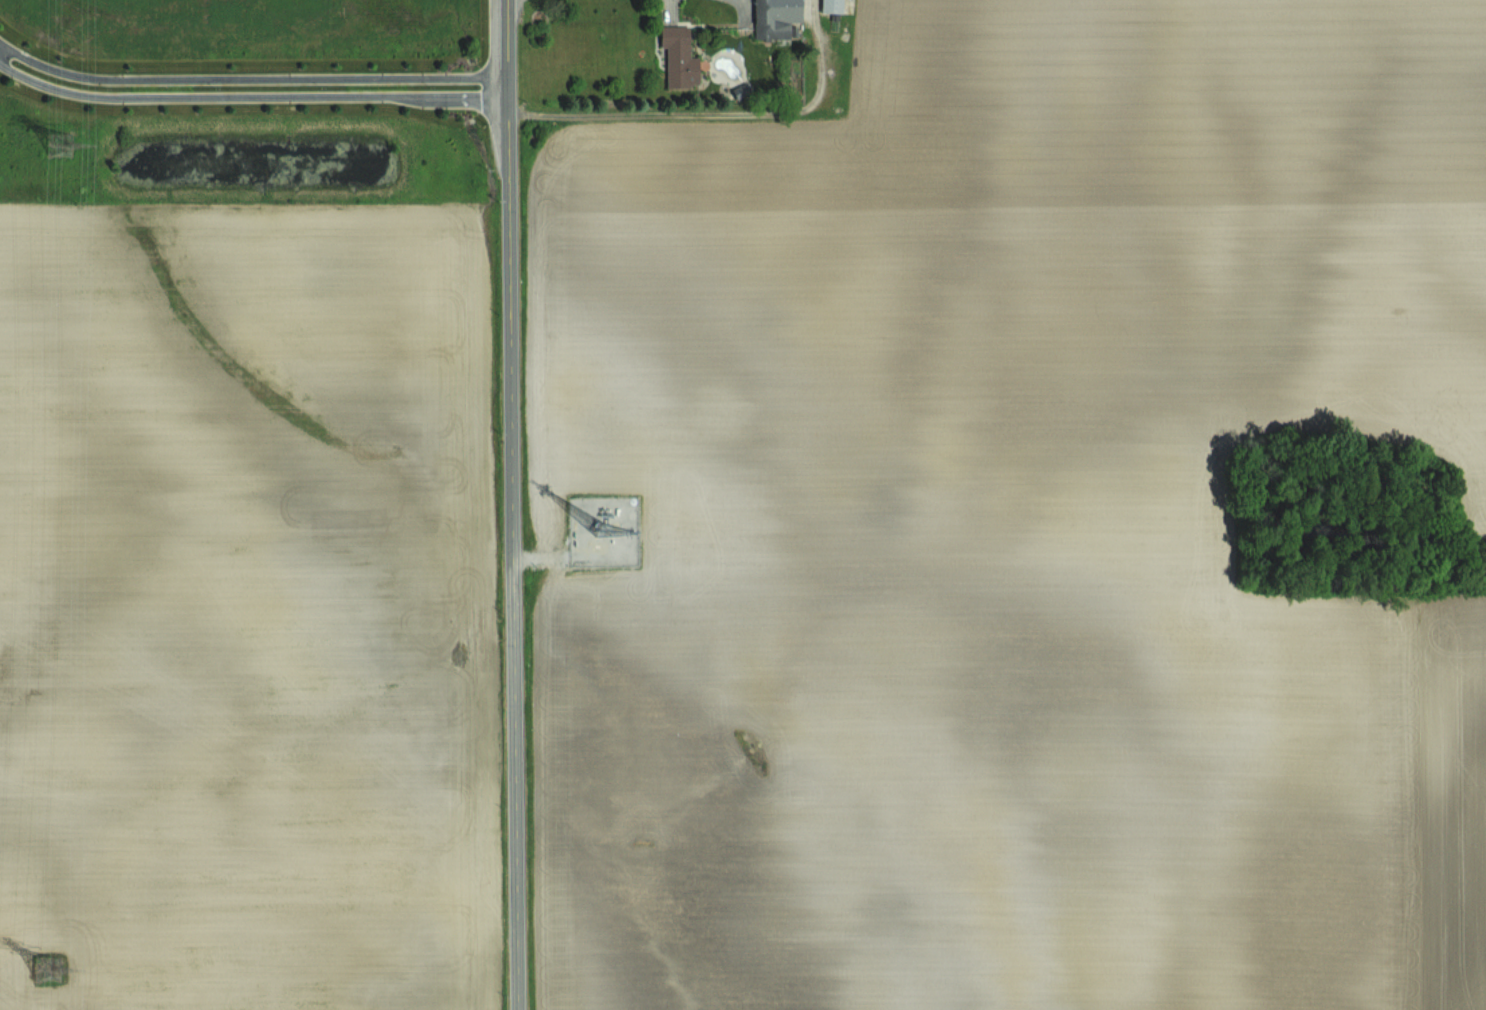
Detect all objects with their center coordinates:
building: (831, 6)
building: (775, 17)
building: (679, 56)
road: (252, 78)
building: (739, 90)
road: (253, 96)
road: (716, 116)
power tower: (60, 145)
road: (515, 504)
power tower: (48, 968)

